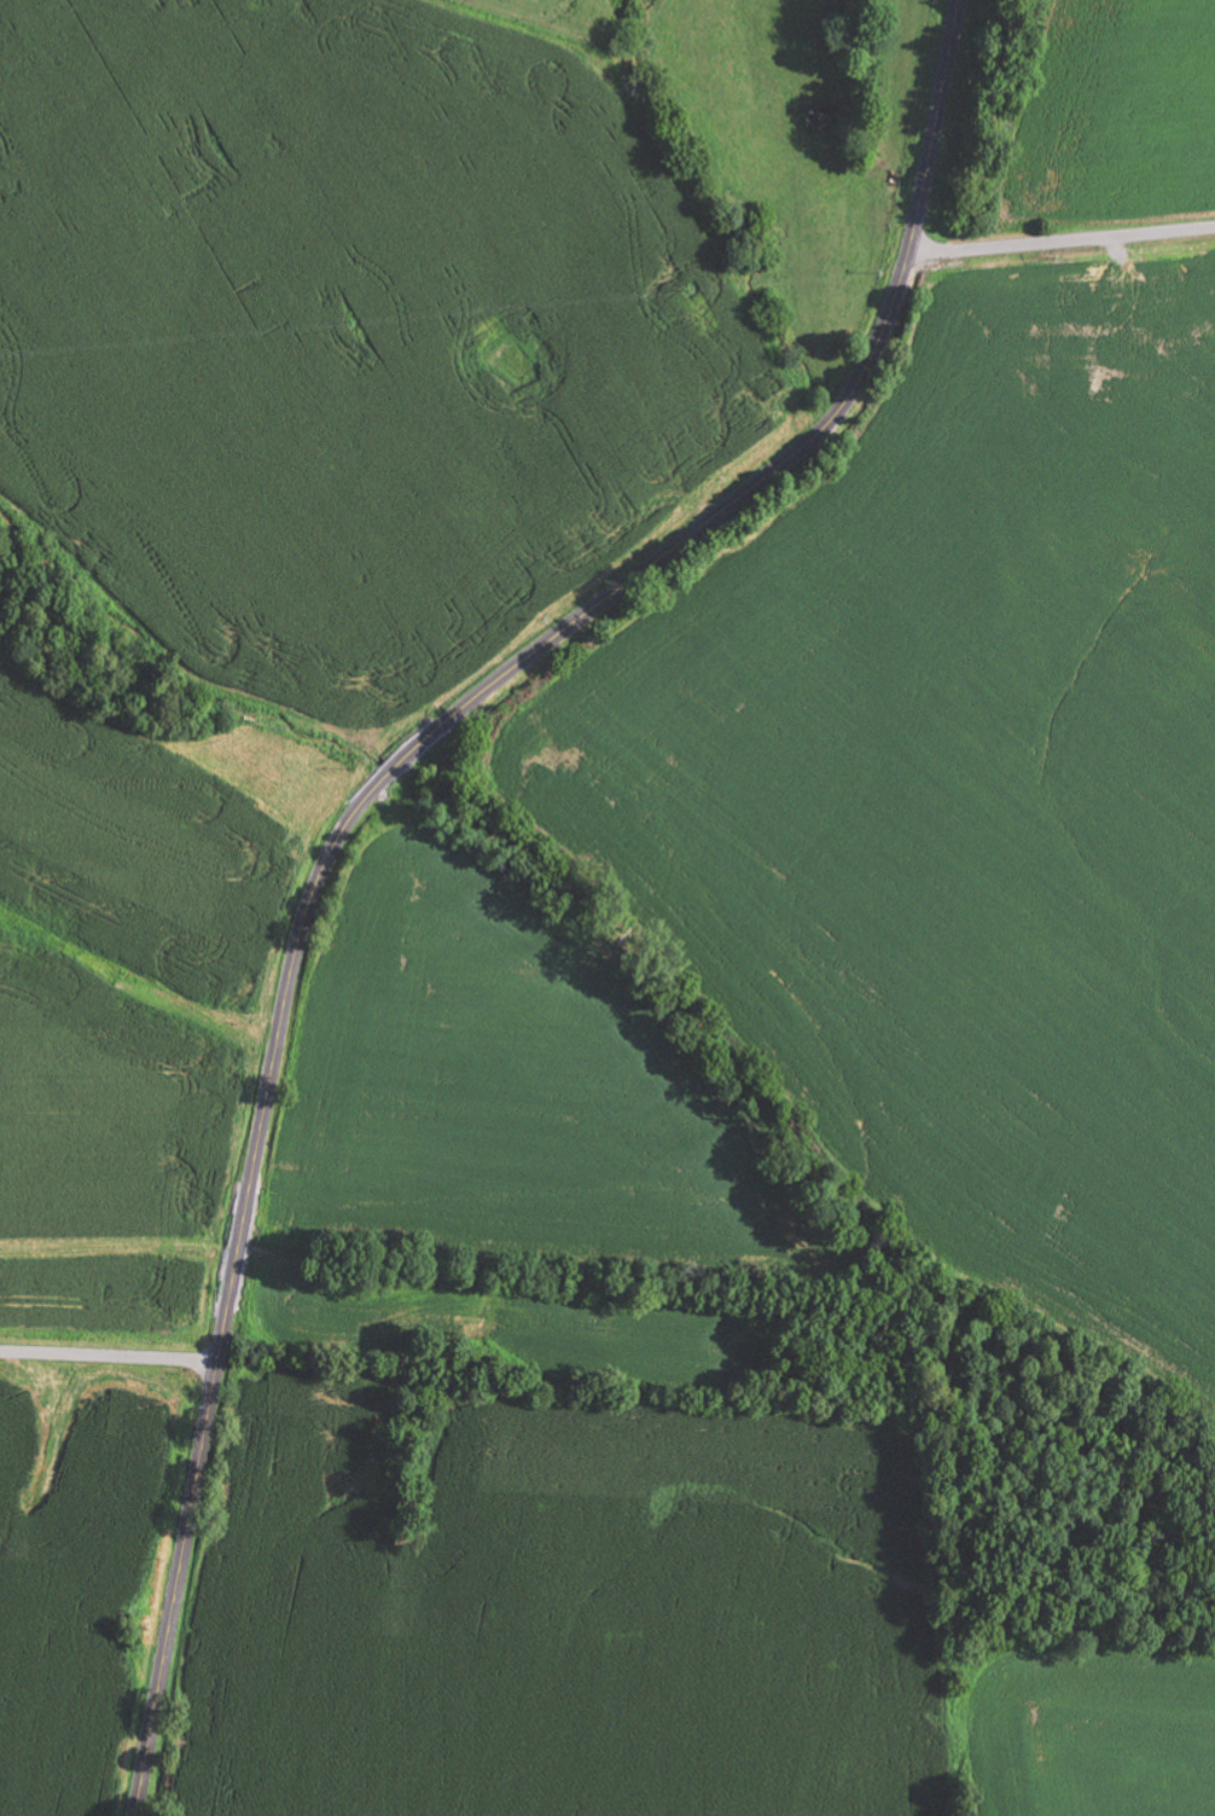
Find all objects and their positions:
road: (1062, 240)
road: (365, 801)
road: (107, 1358)

